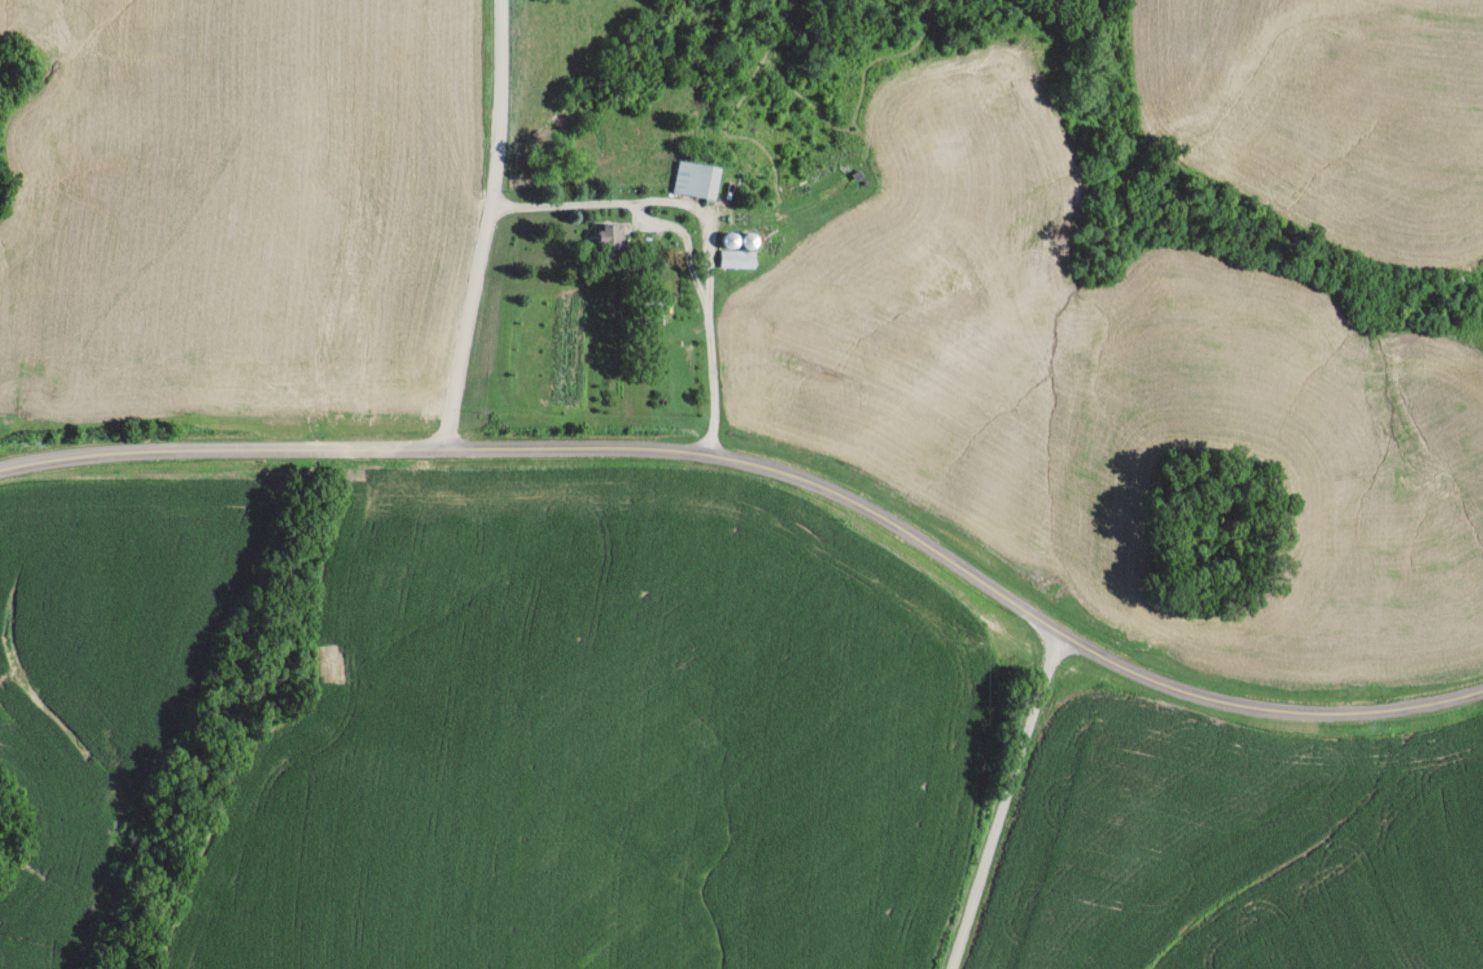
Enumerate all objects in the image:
building: (702, 181)
road: (713, 225)
road: (486, 226)
building: (618, 238)
building: (742, 259)
building: (683, 378)
road: (771, 470)
park: (1226, 532)
crop: (607, 739)
road: (1005, 800)

